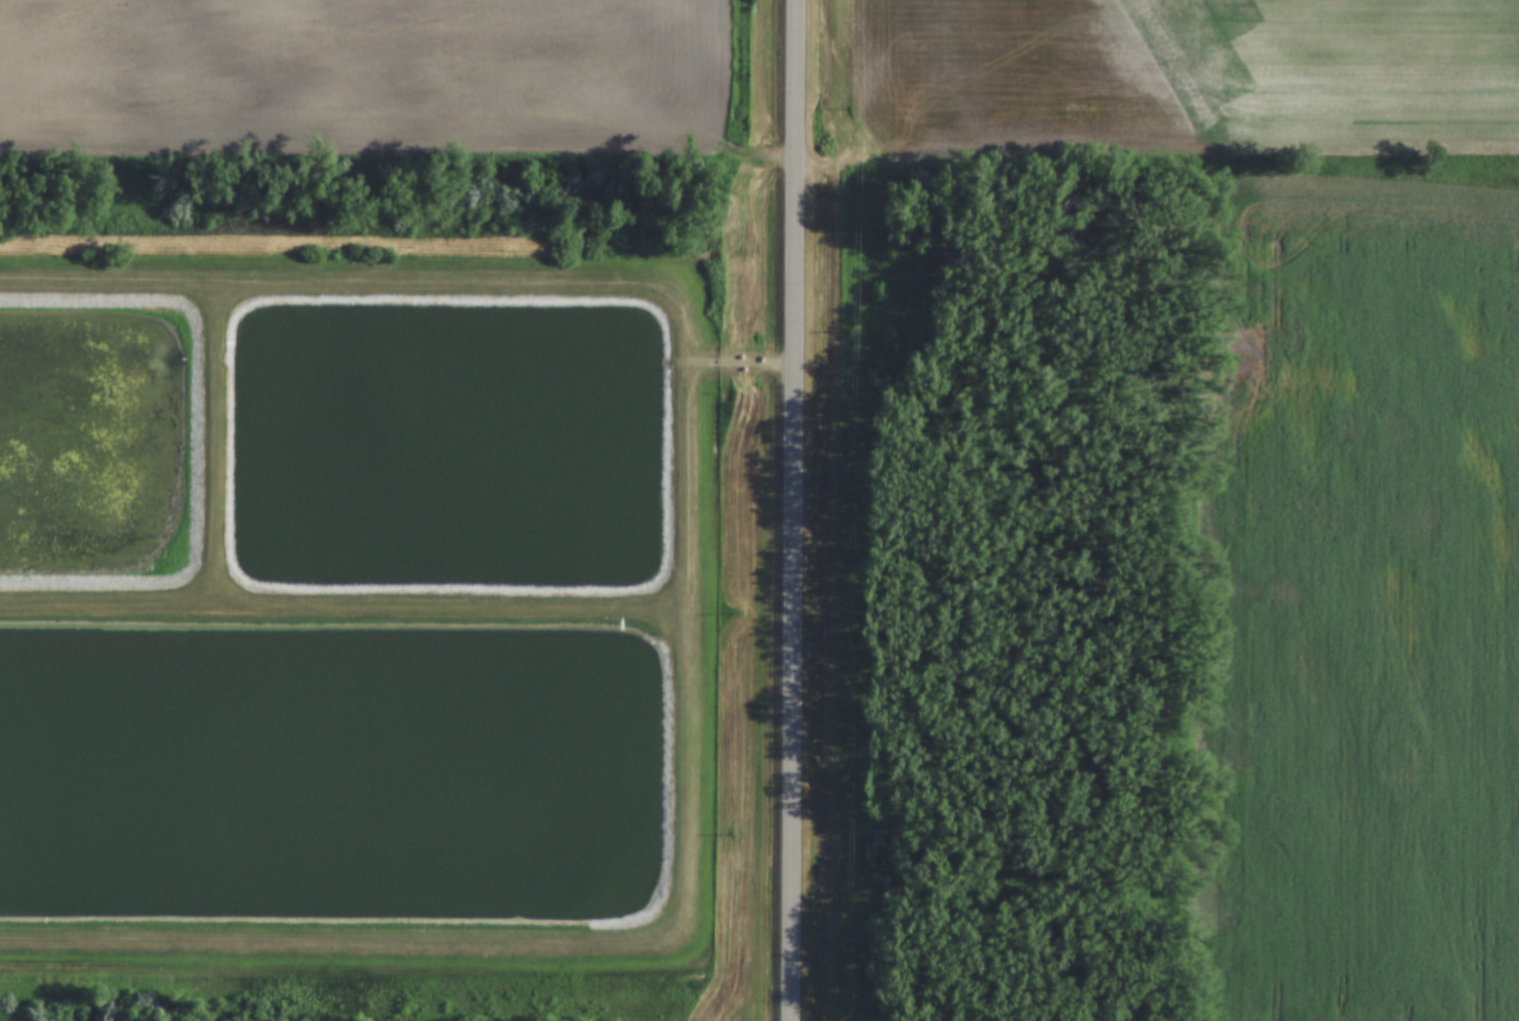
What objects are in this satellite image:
road: (739, 363)
road: (215, 444)
road: (792, 510)
road: (344, 609)
road: (688, 611)

